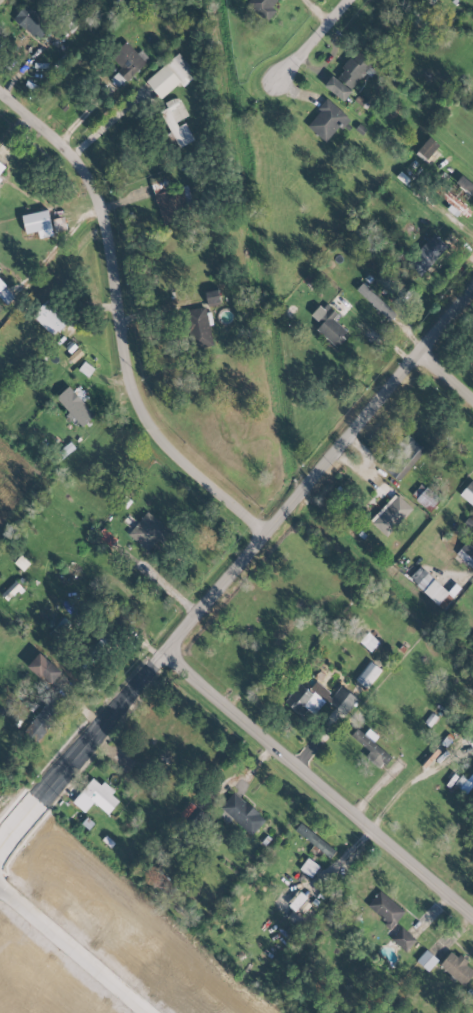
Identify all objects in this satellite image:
building: (262, 7)
road: (317, 11)
building: (30, 22)
road: (311, 44)
building: (128, 60)
building: (348, 74)
building: (170, 76)
road: (83, 113)
building: (176, 120)
building: (326, 121)
road: (106, 125)
building: (427, 148)
building: (1, 167)
building: (0, 179)
building: (465, 184)
building: (161, 185)
building: (172, 204)
building: (456, 205)
building: (37, 223)
building: (59, 224)
road: (58, 243)
building: (426, 254)
building: (1, 284)
building: (5, 295)
building: (212, 297)
building: (375, 301)
building: (50, 317)
road: (120, 319)
building: (329, 324)
road: (450, 370)
building: (74, 406)
building: (402, 457)
building: (468, 493)
building: (390, 514)
building: (147, 531)
building: (106, 537)
building: (467, 552)
road: (255, 555)
road: (160, 579)
building: (431, 588)
building: (10, 590)
building: (368, 641)
building: (43, 668)
building: (367, 674)
building: (319, 699)
building: (41, 721)
building: (469, 734)
building: (371, 749)
road: (407, 781)
building: (465, 783)
road: (321, 785)
building: (95, 797)
building: (241, 813)
building: (314, 840)
building: (308, 867)
building: (384, 908)
building: (403, 939)
building: (426, 960)
building: (456, 968)

